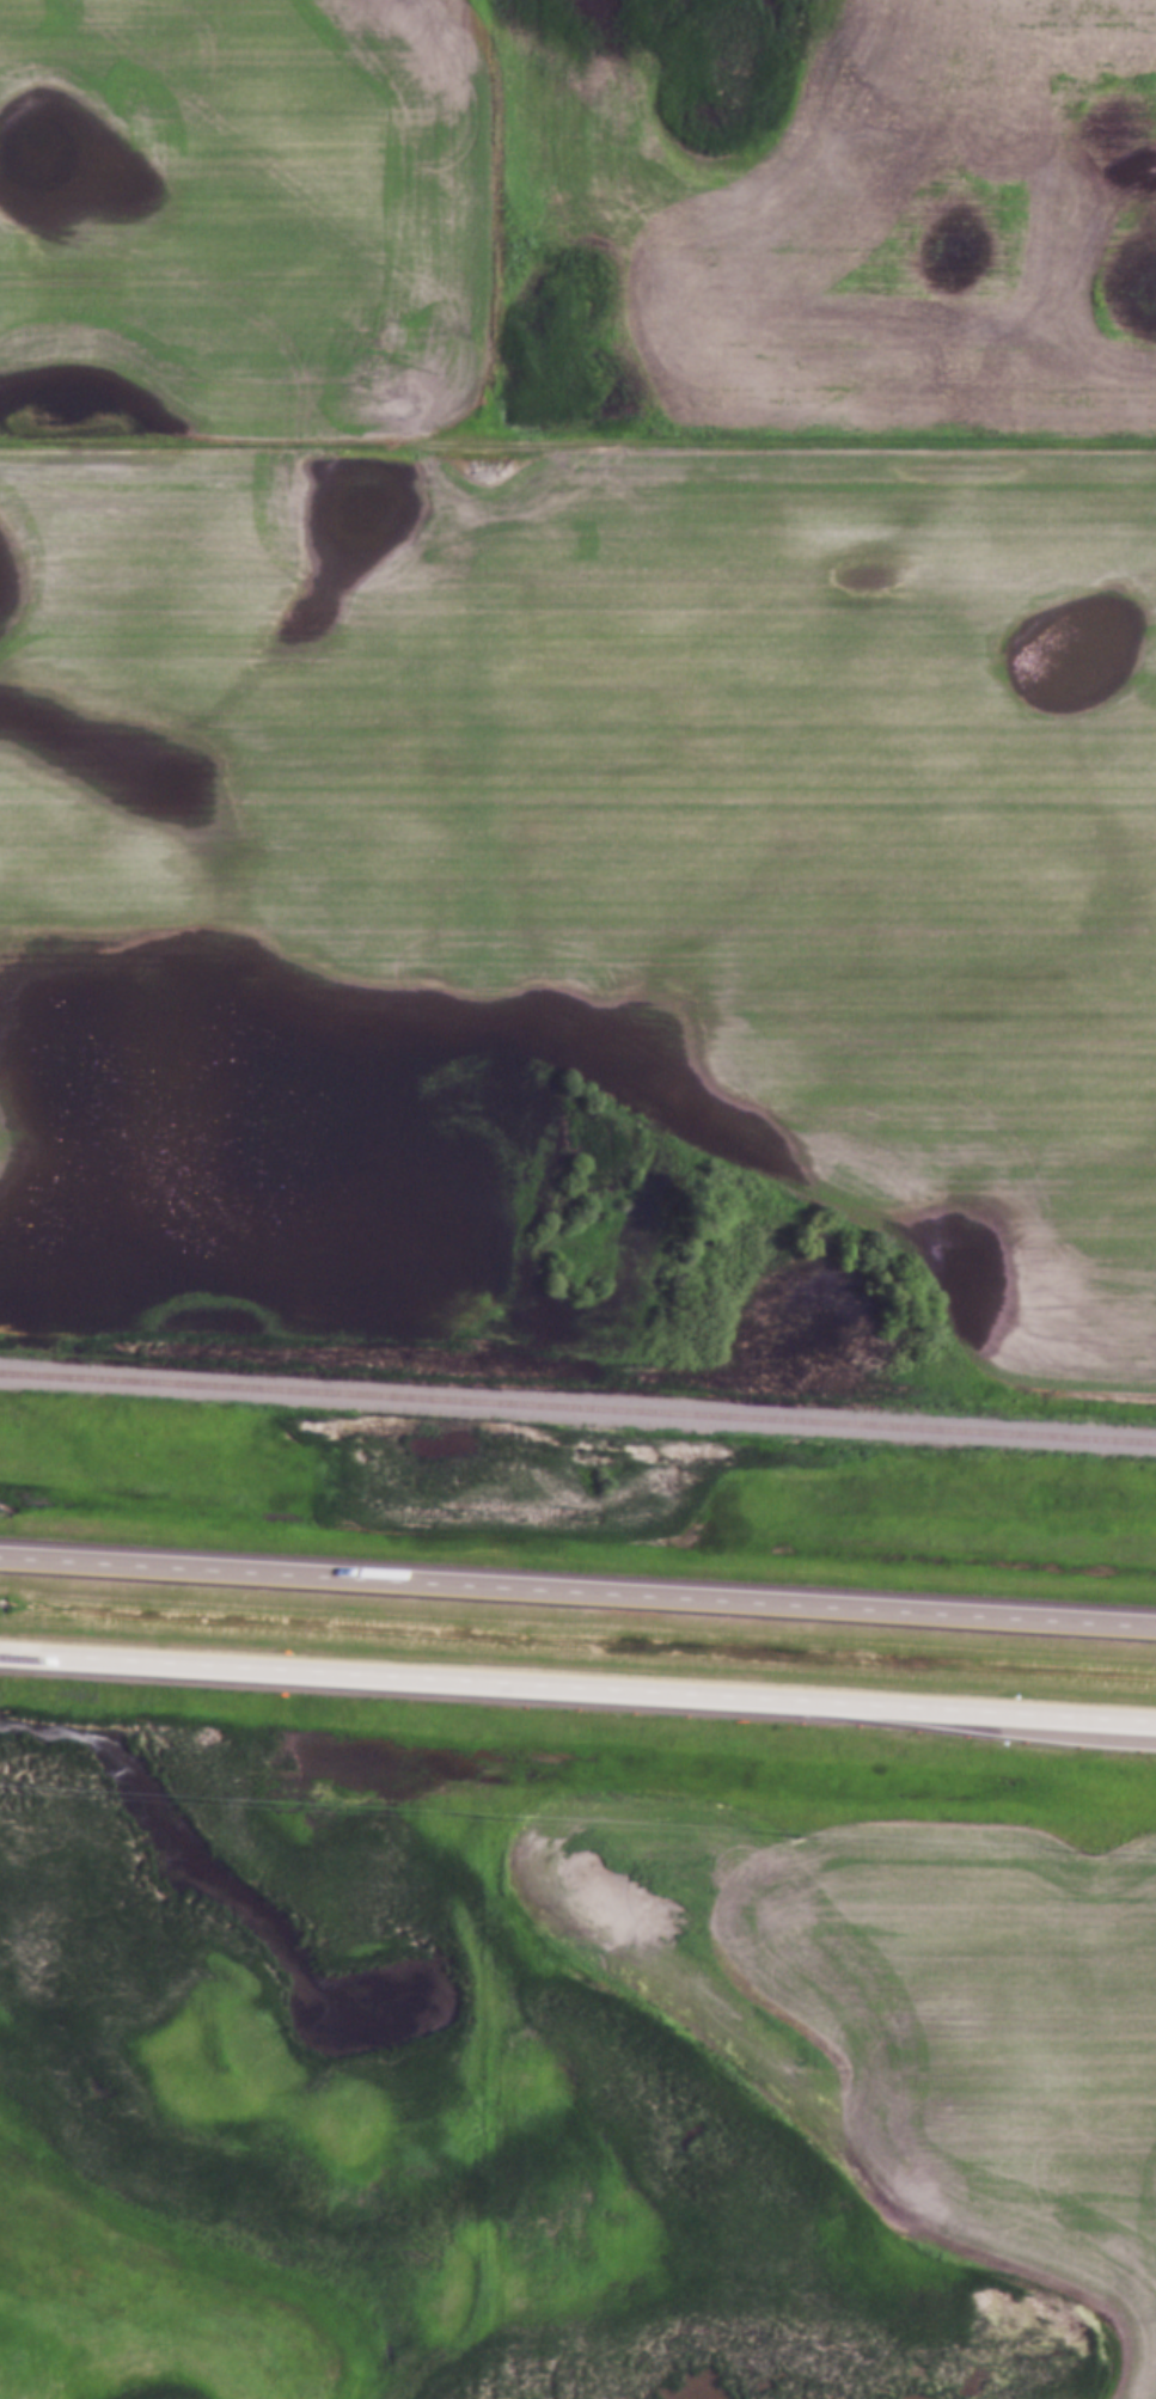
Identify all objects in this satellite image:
road: (577, 443)
railway: (577, 1408)
road: (577, 1590)
road: (577, 1687)

